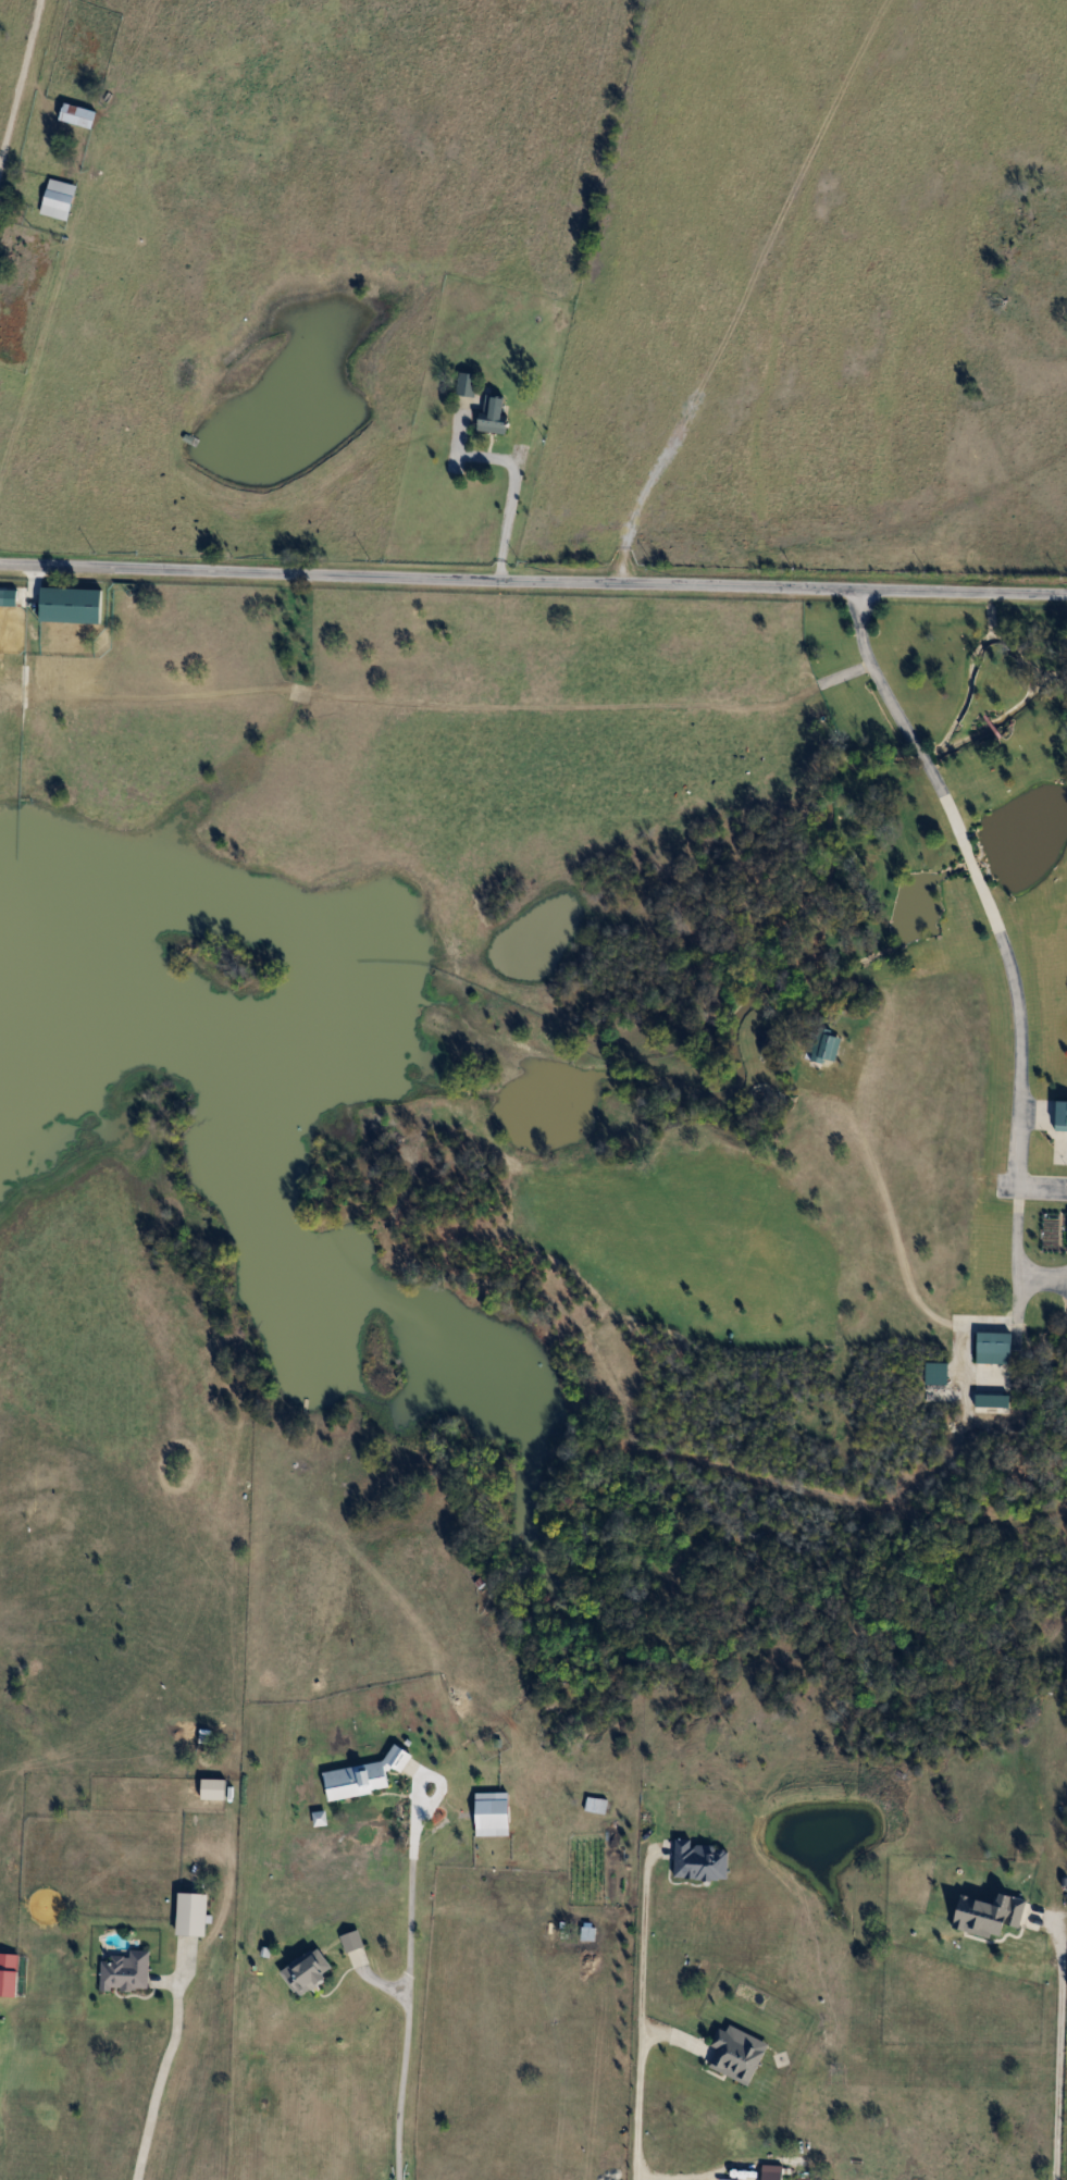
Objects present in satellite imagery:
building: (78, 115)
building: (59, 200)
road: (34, 358)
building: (468, 384)
building: (495, 413)
road: (505, 516)
road: (533, 580)
building: (3, 596)
road: (1012, 1004)
building: (826, 1046)
building: (1063, 1114)
road: (1037, 1186)
road: (889, 1219)
road: (1039, 1277)
building: (995, 1347)
building: (367, 1775)
building: (593, 1805)
building: (703, 1860)
building: (194, 1915)
building: (990, 1915)
building: (353, 1941)
building: (9, 1966)
building: (127, 1971)
building: (309, 1972)
road: (401, 1998)
road: (636, 2021)
road: (1057, 2049)
building: (739, 2053)
road: (159, 2081)
building: (772, 2175)

